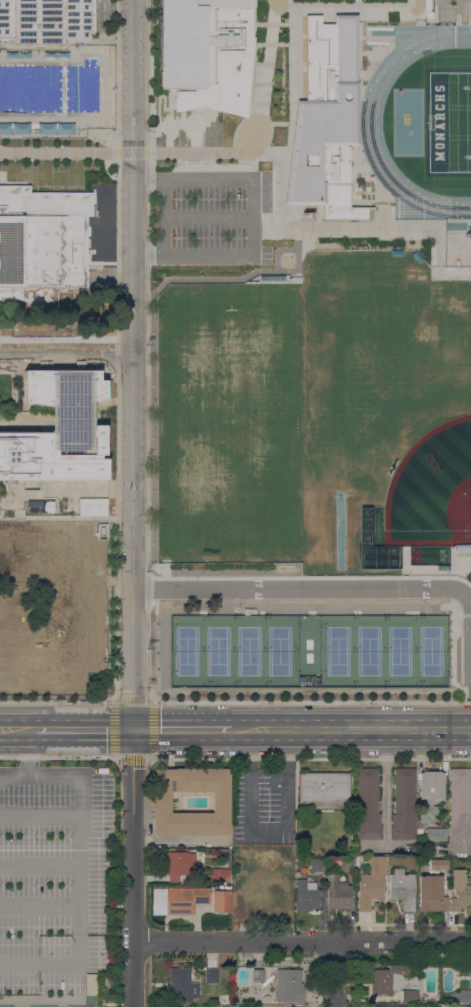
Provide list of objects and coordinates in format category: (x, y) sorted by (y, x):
road: (356, 4)
road: (354, 8)
building: (427, 9)
building: (470, 12)
building: (45, 21)
building: (206, 53)
road: (147, 76)
road: (291, 97)
building: (323, 111)
road: (273, 122)
park: (450, 122)
road: (255, 123)
track: (371, 128)
road: (58, 152)
road: (132, 153)
building: (339, 204)
road: (206, 217)
road: (162, 218)
parking lot: (208, 218)
road: (251, 218)
building: (308, 218)
road: (356, 228)
building: (41, 246)
road: (132, 294)
park: (414, 338)
road: (66, 358)
road: (147, 365)
road: (14, 392)
road: (118, 408)
road: (68, 422)
road: (7, 426)
park: (232, 427)
building: (57, 429)
building: (195, 483)
park: (432, 489)
building: (40, 507)
building: (93, 507)
road: (59, 517)
building: (18, 532)
building: (71, 532)
building: (377, 533)
building: (45, 562)
road: (463, 568)
road: (311, 578)
road: (341, 589)
road: (150, 590)
road: (155, 606)
road: (354, 606)
building: (12, 608)
road: (465, 615)
building: (71, 620)
road: (470, 640)
park: (307, 650)
building: (33, 669)
road: (470, 679)
parking lot: (468, 686)
road: (115, 701)
road: (260, 702)
road: (351, 728)
road: (17, 729)
road: (84, 729)
traffic signals: (132, 729)
road: (182, 729)
road: (29, 752)
road: (57, 755)
road: (310, 758)
road: (60, 776)
building: (324, 790)
building: (429, 795)
road: (132, 798)
building: (221, 802)
building: (460, 804)
building: (368, 805)
building: (404, 806)
road: (268, 832)
road: (79, 835)
building: (435, 835)
building: (180, 864)
road: (39, 865)
building: (317, 865)
building: (438, 865)
building: (348, 866)
building: (219, 875)
building: (369, 889)
building: (402, 889)
building: (460, 891)
building: (337, 894)
building: (432, 894)
building: (307, 896)
building: (178, 900)
building: (221, 901)
road: (40, 905)
road: (301, 941)
road: (18, 963)
building: (225, 970)
road: (336, 974)
building: (258, 975)
building: (211, 976)
building: (388, 979)
building: (182, 985)
building: (289, 985)
building: (408, 994)
building: (463, 997)
building: (266, 999)
building: (11, 1006)
building: (56, 1006)

